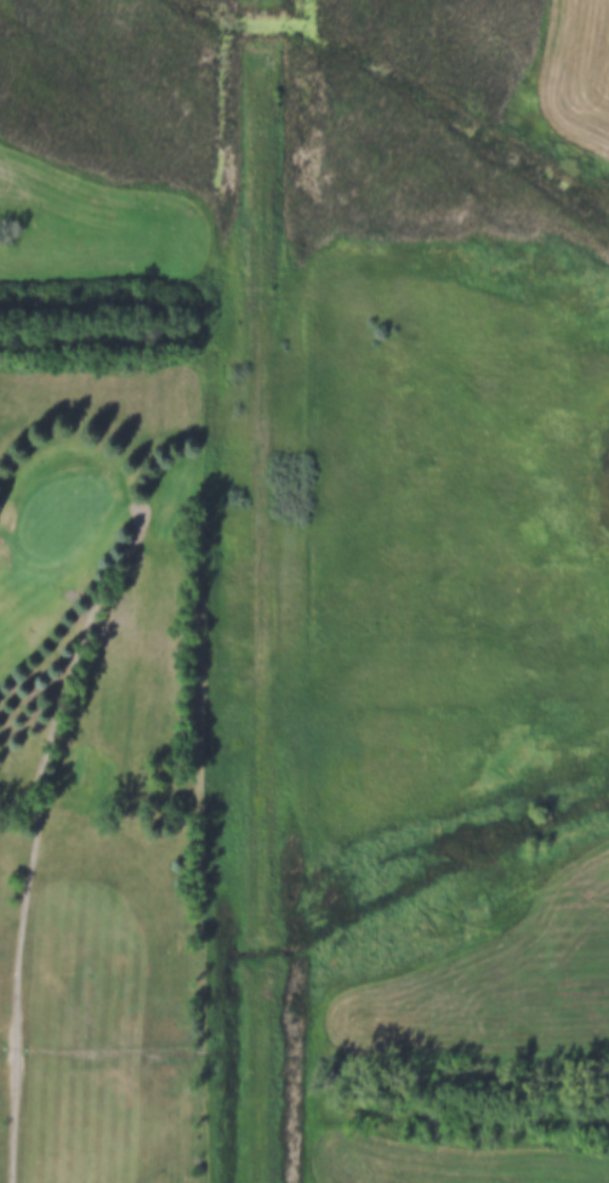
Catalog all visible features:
park: (144, 738)
road: (16, 996)

